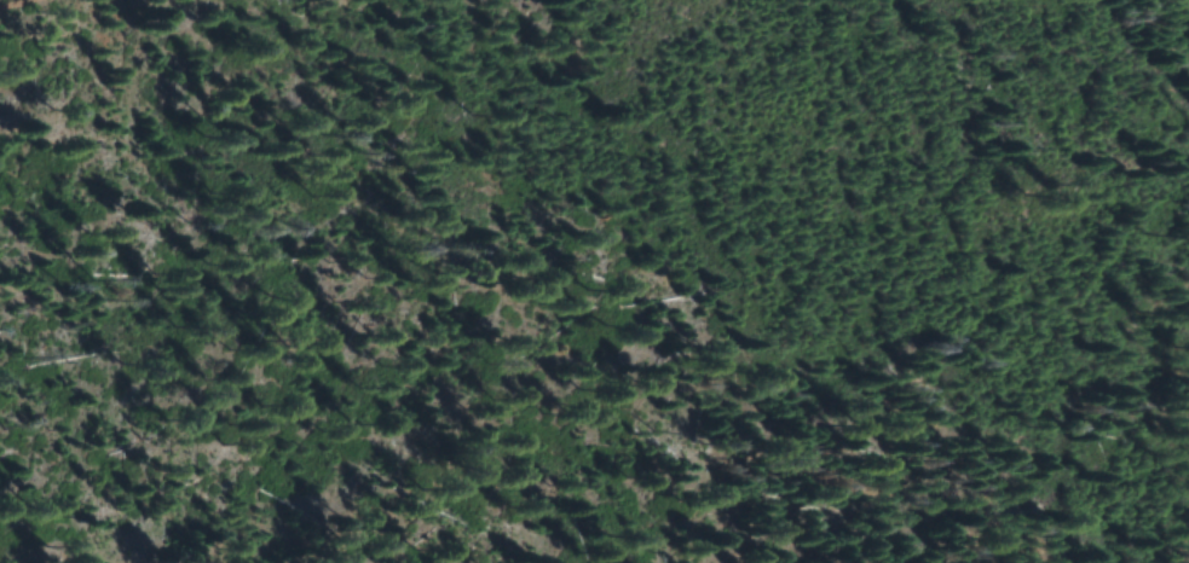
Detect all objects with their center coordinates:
road: (31, 8)

